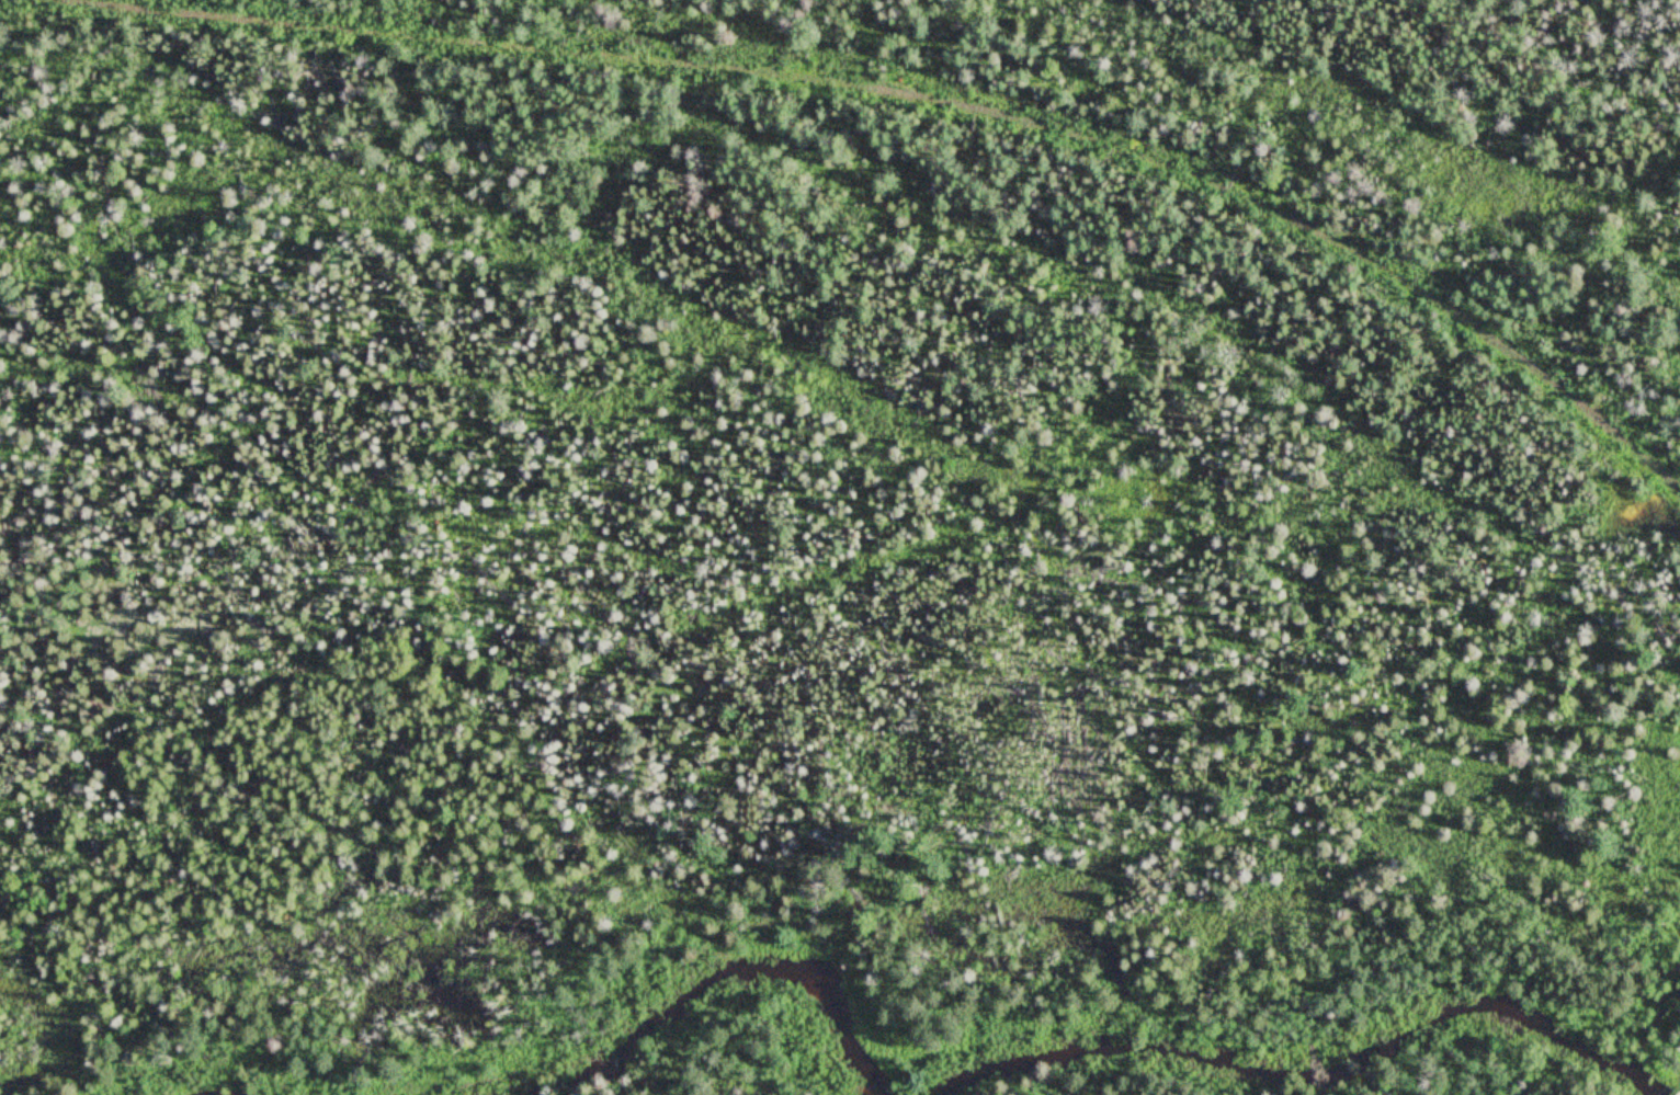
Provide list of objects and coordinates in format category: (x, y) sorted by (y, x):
railway: (931, 98)
building: (1501, 341)
building: (1554, 381)
river: (710, 984)
river: (1291, 1072)
river: (1632, 1084)

